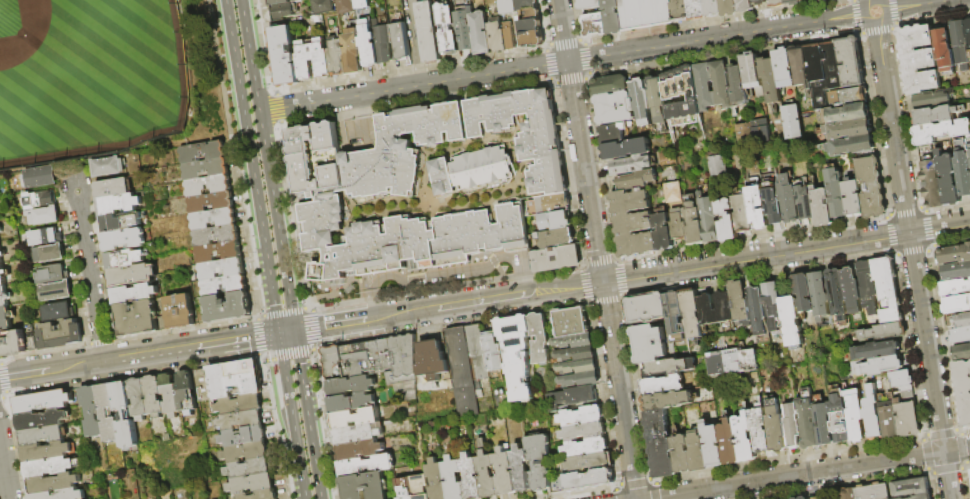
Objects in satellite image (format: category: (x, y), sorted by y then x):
building: (299, 0)
building: (821, 0)
building: (826, 0)
road: (872, 0)
building: (279, 2)
building: (760, 2)
building: (794, 2)
building: (777, 3)
building: (362, 4)
building: (592, 4)
building: (745, 5)
road: (920, 5)
building: (323, 6)
building: (345, 6)
building: (508, 7)
building: (730, 7)
building: (713, 8)
building: (697, 9)
building: (681, 10)
building: (283, 11)
building: (647, 14)
building: (614, 17)
building: (533, 23)
road: (876, 24)
building: (595, 25)
building: (968, 28)
building: (447, 29)
building: (465, 30)
road: (562, 31)
building: (429, 32)
building: (480, 32)
building: (509, 36)
building: (497, 38)
road: (715, 38)
road: (414, 43)
building: (961, 44)
building: (369, 47)
building: (945, 50)
building: (353, 52)
building: (385, 52)
building: (969, 53)
road: (248, 56)
building: (285, 56)
road: (233, 57)
building: (337, 58)
building: (919, 59)
building: (305, 60)
building: (851, 61)
building: (800, 66)
building: (824, 67)
building: (785, 68)
building: (753, 73)
park: (93, 80)
building: (771, 80)
building: (713, 84)
building: (738, 85)
road: (413, 87)
building: (682, 96)
building: (840, 97)
building: (932, 99)
building: (614, 101)
building: (642, 101)
building: (658, 102)
road: (280, 108)
building: (847, 114)
building: (935, 114)
road: (359, 119)
building: (790, 121)
building: (751, 130)
building: (849, 130)
building: (942, 131)
building: (526, 133)
building: (613, 133)
building: (852, 146)
building: (969, 148)
building: (627, 149)
building: (401, 150)
building: (216, 153)
building: (310, 153)
road: (234, 158)
building: (632, 165)
building: (715, 165)
building: (109, 166)
building: (206, 169)
building: (474, 170)
building: (962, 171)
road: (585, 172)
building: (40, 177)
building: (948, 178)
building: (637, 179)
building: (933, 184)
building: (208, 185)
building: (113, 187)
building: (872, 187)
building: (671, 191)
building: (837, 193)
building: (854, 197)
building: (40, 199)
building: (790, 199)
building: (774, 201)
building: (211, 202)
building: (557, 203)
building: (118, 204)
building: (806, 204)
building: (822, 206)
building: (758, 207)
building: (2, 209)
building: (742, 214)
road: (294, 215)
building: (44, 216)
building: (709, 218)
building: (226, 219)
building: (694, 220)
building: (727, 220)
road: (275, 221)
building: (556, 221)
building: (121, 222)
road: (260, 223)
building: (640, 224)
building: (678, 225)
building: (0, 230)
building: (216, 235)
building: (46, 237)
building: (405, 238)
building: (557, 238)
building: (125, 239)
parking lot: (521, 242)
road: (489, 252)
road: (786, 252)
building: (231, 253)
building: (2, 254)
building: (49, 254)
building: (953, 254)
road: (521, 258)
building: (557, 258)
building: (126, 259)
road: (454, 261)
road: (914, 261)
road: (495, 262)
building: (222, 269)
road: (386, 269)
road: (416, 270)
building: (957, 271)
building: (53, 274)
building: (131, 274)
road: (546, 274)
building: (3, 275)
road: (90, 276)
road: (431, 276)
road: (523, 280)
road: (417, 282)
traffic signals: (603, 282)
road: (348, 284)
building: (888, 284)
building: (224, 285)
building: (868, 285)
road: (329, 286)
building: (956, 287)
road: (560, 288)
road: (440, 289)
building: (56, 291)
road: (419, 291)
building: (852, 291)
building: (804, 292)
building: (134, 294)
building: (837, 294)
road: (329, 295)
building: (820, 295)
building: (3, 296)
building: (774, 299)
road: (312, 300)
building: (740, 302)
road: (351, 303)
building: (706, 303)
building: (958, 303)
road: (578, 305)
building: (227, 307)
building: (648, 307)
road: (310, 309)
building: (59, 311)
building: (180, 311)
road: (416, 311)
road: (284, 313)
building: (692, 314)
building: (759, 314)
road: (259, 317)
building: (5, 318)
building: (137, 319)
building: (792, 321)
building: (960, 321)
building: (572, 322)
building: (163, 323)
building: (677, 324)
building: (886, 328)
road: (316, 329)
road: (304, 330)
traffic signals: (293, 332)
road: (285, 333)
traffic signals: (278, 334)
building: (60, 335)
road: (269, 335)
building: (960, 336)
road: (260, 337)
building: (540, 338)
building: (575, 341)
road: (222, 342)
building: (649, 343)
building: (12, 344)
building: (32, 344)
road: (315, 351)
building: (877, 351)
building: (478, 352)
building: (494, 352)
building: (962, 353)
building: (576, 354)
building: (518, 355)
road: (290, 356)
building: (367, 358)
road: (262, 359)
building: (403, 360)
building: (433, 360)
building: (731, 361)
road: (1, 362)
road: (266, 362)
road: (275, 362)
road: (92, 364)
building: (334, 364)
building: (879, 366)
building: (578, 367)
building: (669, 367)
building: (463, 371)
road: (5, 378)
building: (902, 379)
building: (228, 380)
building: (580, 380)
building: (662, 385)
building: (352, 386)
road: (620, 390)
building: (963, 390)
building: (187, 393)
building: (170, 395)
road: (287, 396)
road: (8, 397)
building: (154, 397)
road: (276, 397)
building: (573, 397)
road: (2, 398)
building: (140, 399)
building: (667, 400)
building: (42, 402)
building: (352, 402)
building: (240, 404)
building: (92, 412)
building: (108, 413)
building: (125, 414)
building: (856, 414)
building: (874, 414)
road: (306, 415)
building: (581, 416)
building: (355, 418)
building: (908, 418)
building: (42, 420)
building: (240, 420)
building: (841, 420)
building: (890, 420)
road: (327, 421)
building: (809, 424)
building: (824, 425)
building: (794, 426)
building: (776, 427)
road: (278, 430)
building: (584, 431)
building: (761, 431)
building: (357, 434)
building: (43, 436)
building: (243, 437)
building: (745, 438)
building: (730, 443)
building: (661, 444)
building: (714, 444)
building: (586, 447)
building: (359, 450)
building: (47, 451)
building: (699, 451)
building: (246, 452)
building: (683, 454)
building: (539, 461)
building: (589, 462)
building: (367, 465)
building: (50, 468)
building: (249, 468)
building: (520, 470)
road: (4, 471)
building: (486, 472)
building: (504, 473)
road: (811, 473)
building: (471, 477)
building: (453, 478)
road: (964, 478)
road: (300, 479)
building: (437, 479)
building: (590, 480)
road: (636, 482)
road: (656, 482)
building: (54, 483)
building: (251, 484)
road: (621, 485)
building: (367, 486)
building: (909, 486)
building: (414, 487)
road: (618, 490)
building: (871, 491)
road: (659, 492)
building: (844, 493)
building: (63, 494)
building: (260, 495)
road: (619, 495)
building: (915, 496)
building: (805, 497)
building: (795, 498)
building: (819, 498)

